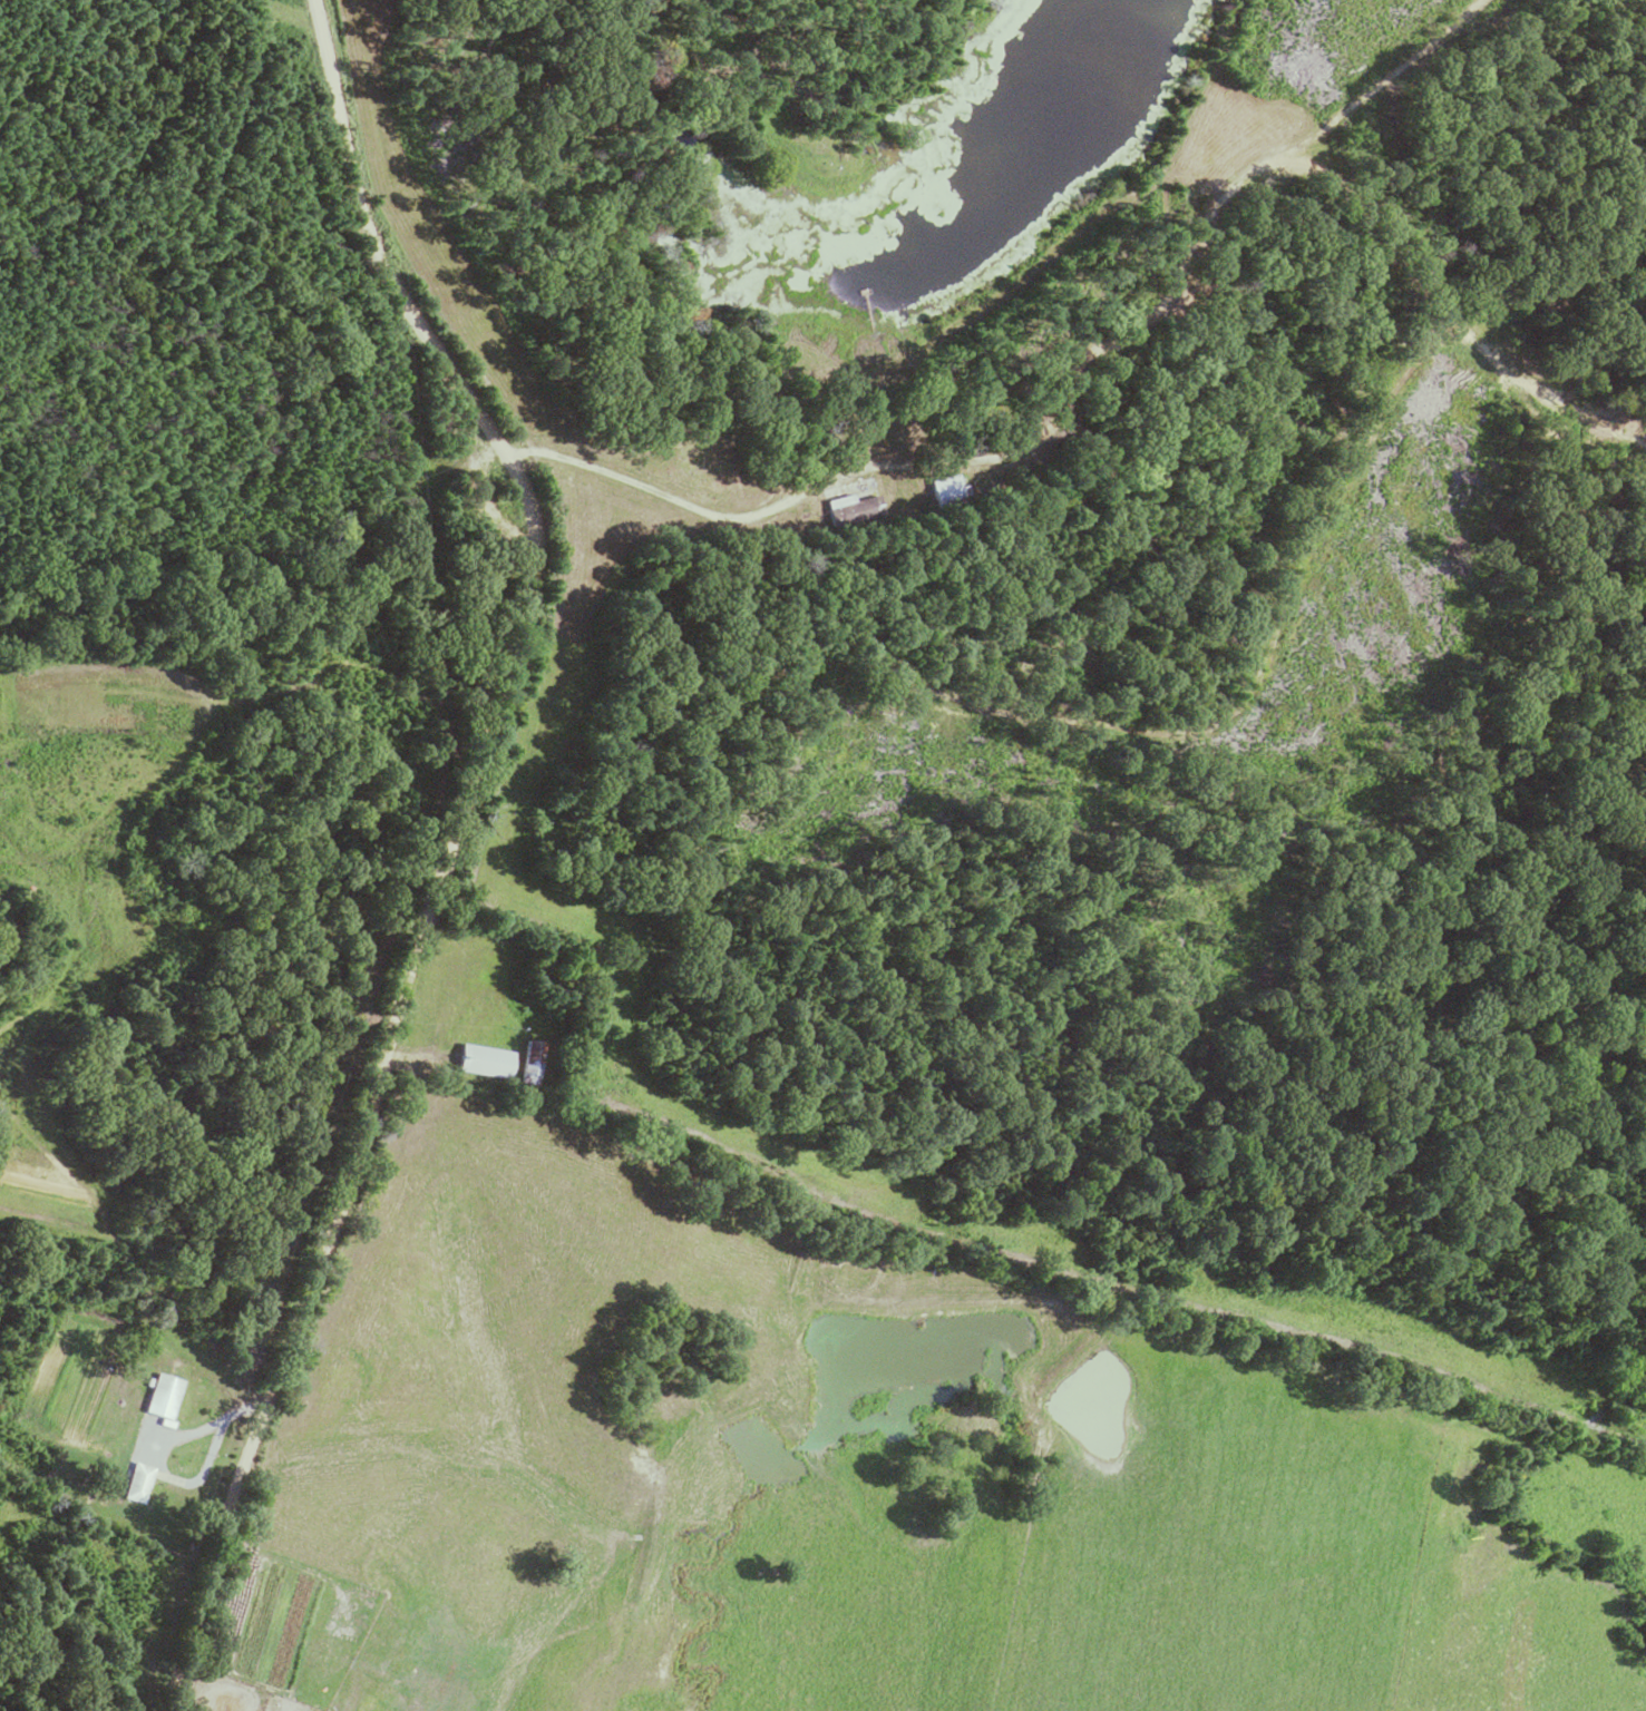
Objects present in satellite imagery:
building: (851, 509)
road: (441, 842)
building: (480, 1060)
building: (527, 1060)
building: (160, 1396)
building: (135, 1483)

